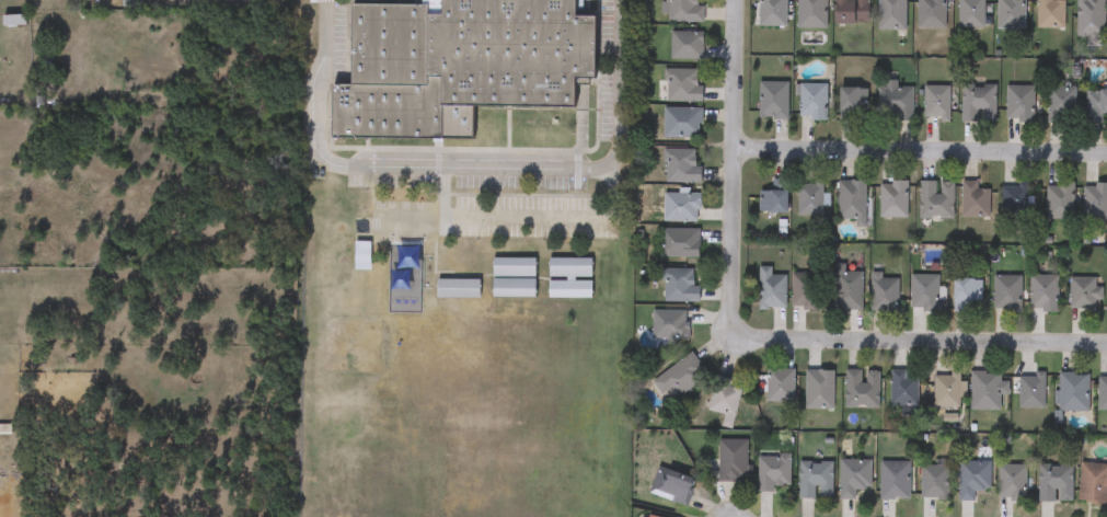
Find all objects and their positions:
building: (684, 11)
building: (851, 12)
building: (772, 13)
building: (970, 13)
building: (811, 14)
building: (890, 14)
building: (930, 14)
building: (1011, 14)
building: (1049, 14)
building: (1089, 19)
building: (685, 45)
building: (457, 62)
building: (682, 85)
building: (895, 100)
building: (772, 101)
building: (811, 102)
building: (935, 102)
building: (851, 103)
building: (978, 103)
building: (1018, 103)
building: (1061, 103)
building: (1095, 105)
building: (681, 123)
building: (474, 136)
building: (546, 137)
road: (920, 150)
building: (681, 166)
road: (733, 169)
road: (470, 170)
building: (773, 198)
building: (809, 198)
building: (892, 199)
building: (935, 199)
building: (973, 200)
building: (1014, 200)
building: (851, 202)
building: (1059, 202)
building: (1095, 202)
building: (680, 207)
building: (679, 244)
building: (361, 256)
building: (512, 268)
building: (569, 268)
building: (679, 286)
building: (457, 288)
building: (512, 288)
building: (569, 289)
building: (770, 290)
building: (847, 290)
building: (804, 291)
building: (923, 292)
building: (1043, 292)
building: (1084, 292)
building: (884, 294)
building: (965, 294)
building: (1006, 294)
building: (669, 325)
road: (923, 340)
building: (680, 377)
building: (780, 386)
building: (861, 389)
building: (903, 389)
building: (819, 390)
building: (987, 390)
building: (948, 391)
building: (1031, 391)
building: (1072, 392)
building: (1102, 392)
building: (724, 401)
building: (733, 459)
building: (773, 472)
building: (853, 478)
building: (972, 479)
building: (893, 480)
building: (816, 481)
building: (934, 482)
building: (1011, 482)
building: (1054, 482)
building: (1092, 483)
building: (671, 485)
building: (649, 516)

